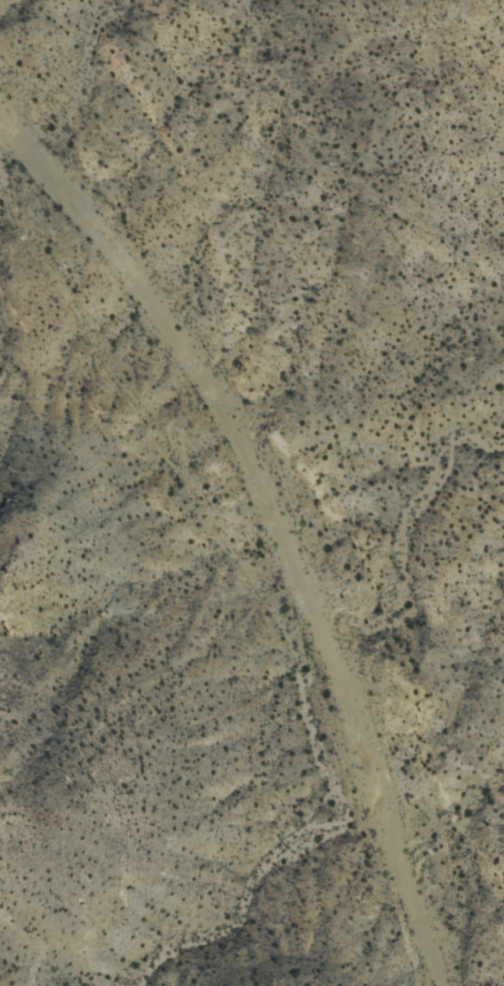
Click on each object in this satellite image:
road: (279, 517)

